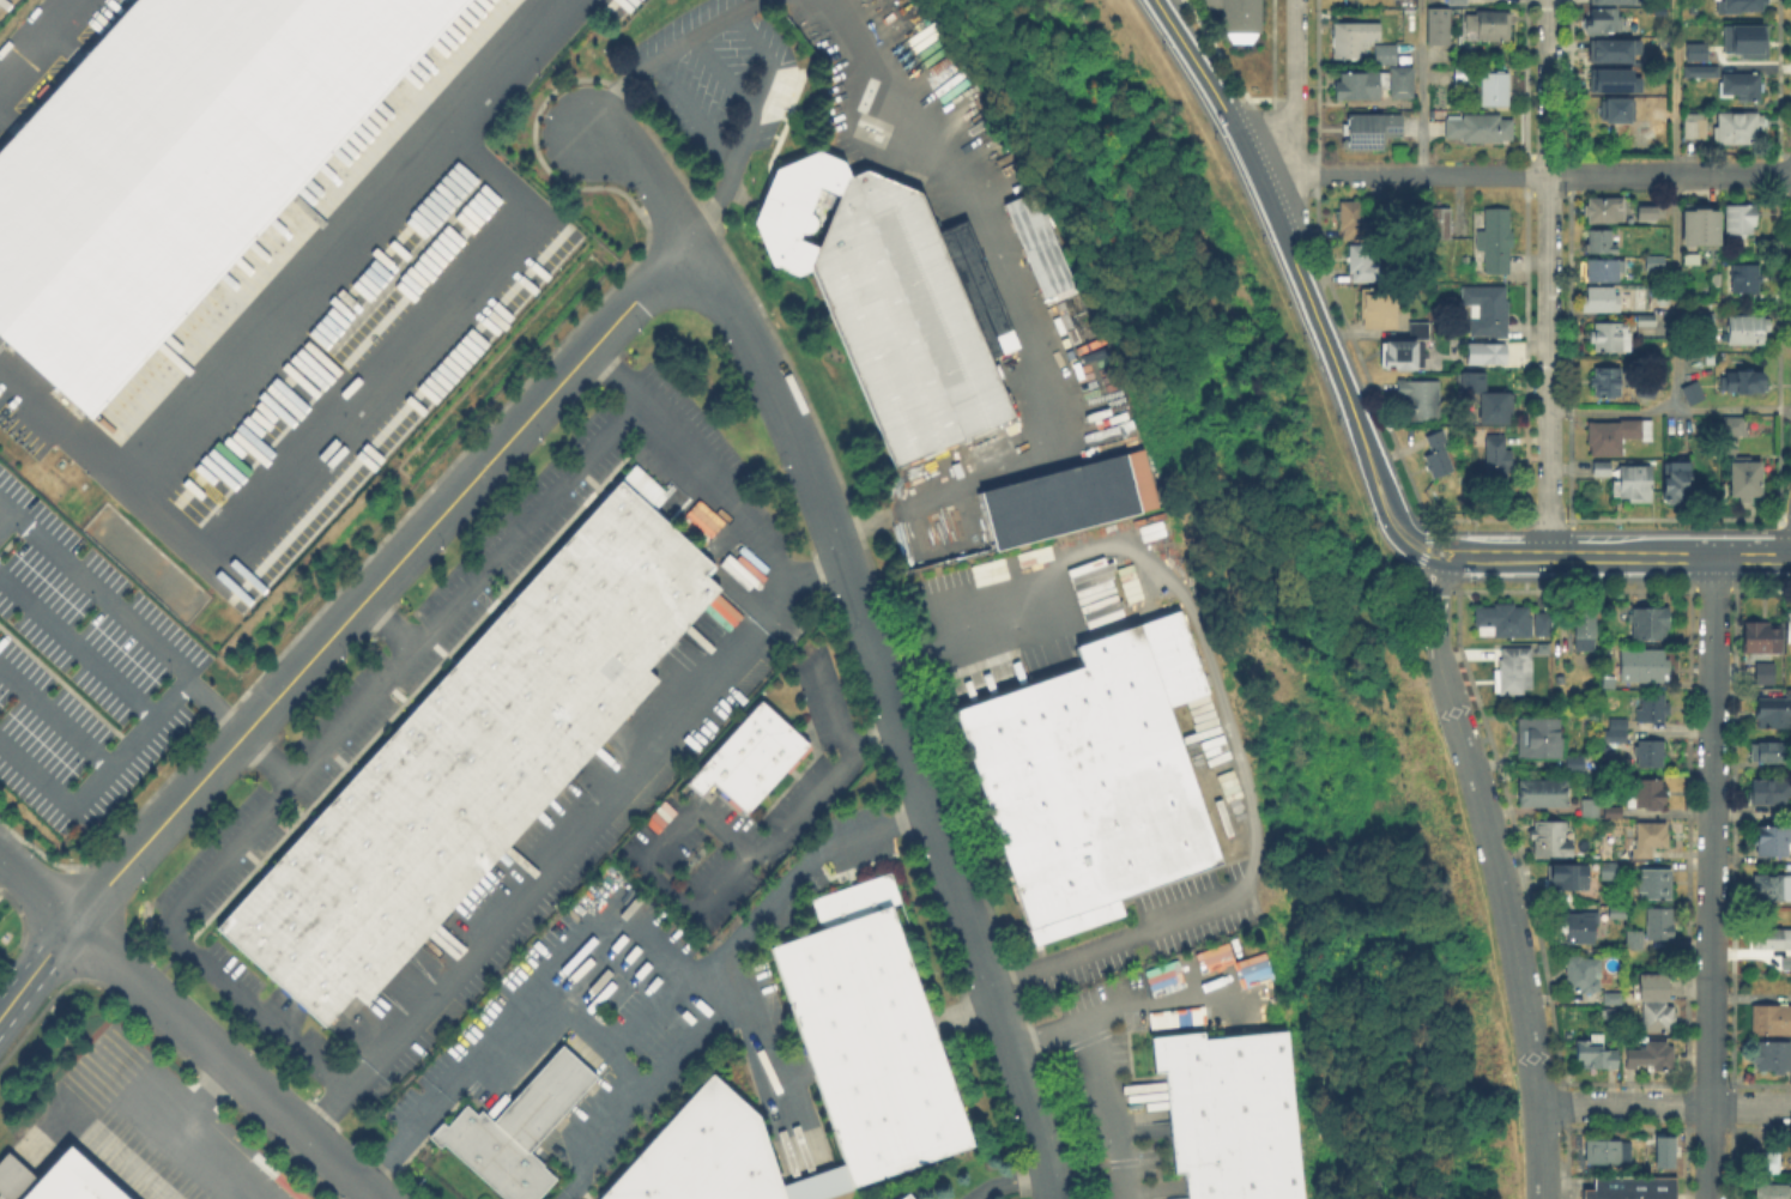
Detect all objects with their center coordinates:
building: (1458, 1)
building: (1612, 1)
building: (1404, 2)
building: (1743, 7)
building: (1240, 18)
building: (1603, 22)
building: (1490, 26)
building: (1440, 28)
road: (30, 34)
building: (1354, 37)
road: (758, 40)
building: (1747, 40)
road: (1202, 48)
building: (1612, 49)
building: (1698, 52)
building: (1387, 56)
road: (1221, 60)
road: (728, 72)
building: (1702, 73)
building: (1465, 79)
building: (1612, 79)
building: (1743, 85)
building: (1375, 86)
road: (1422, 87)
building: (1496, 90)
road: (1295, 92)
road: (1294, 97)
road: (1239, 98)
building: (1618, 111)
road: (697, 113)
road: (1271, 125)
road: (1315, 125)
building: (1694, 126)
building: (1738, 128)
building: (1480, 129)
building: (1372, 132)
building: (175, 163)
road: (1315, 174)
road: (1267, 175)
road: (1521, 175)
road: (1281, 176)
road: (651, 177)
road: (1675, 204)
building: (1605, 211)
building: (1647, 213)
building: (1354, 220)
building: (1741, 220)
building: (1442, 224)
road: (1276, 225)
building: (1699, 228)
building: (1496, 242)
building: (1036, 243)
building: (1602, 243)
building: (1362, 264)
building: (1656, 264)
building: (1607, 271)
building: (1706, 271)
road: (1549, 277)
building: (1745, 279)
building: (979, 291)
building: (1663, 298)
building: (1602, 301)
building: (889, 302)
road: (292, 308)
building: (1379, 311)
building: (1488, 311)
building: (1645, 320)
building: (1705, 320)
road: (1025, 328)
building: (1749, 331)
building: (1421, 332)
building: (1611, 339)
building: (1402, 355)
building: (1480, 355)
building: (1711, 359)
building: (1607, 383)
building: (1743, 384)
building: (1646, 393)
building: (1690, 394)
road: (383, 395)
building: (1421, 400)
road: (1378, 405)
building: (1496, 408)
road: (1669, 410)
building: (1616, 437)
road: (1379, 438)
building: (1439, 458)
building: (1497, 458)
building: (1602, 470)
building: (1745, 479)
building: (1676, 482)
building: (1634, 485)
building: (1071, 501)
road: (13, 504)
road: (1393, 505)
road: (744, 511)
road: (1672, 516)
road: (1784, 516)
road: (1381, 517)
road: (1547, 517)
road: (526, 523)
road: (1426, 528)
road: (1671, 529)
road: (1781, 529)
road: (1547, 531)
road: (1439, 540)
road: (1502, 544)
road: (1777, 551)
road: (1422, 552)
road: (1571, 552)
road: (1670, 555)
road: (1489, 556)
road: (1432, 562)
road: (1499, 567)
road: (1167, 574)
road: (1762, 574)
road: (1712, 575)
road: (1439, 576)
road: (1563, 576)
road: (1416, 577)
road: (381, 580)
road: (1573, 587)
road: (1711, 587)
road: (1762, 587)
road: (1427, 588)
road: (1448, 588)
road: (114, 592)
park: (1260, 610)
building: (1505, 620)
building: (1648, 624)
building: (1544, 625)
road: (1436, 630)
building: (1586, 632)
building: (1789, 635)
building: (1762, 637)
road: (79, 644)
building: (1767, 665)
building: (1642, 666)
building: (1515, 672)
road: (894, 709)
building: (1653, 709)
building: (1775, 713)
road: (56, 716)
building: (1616, 732)
building: (1539, 739)
building: (1769, 753)
road: (123, 755)
building: (1647, 756)
road: (271, 757)
building: (474, 757)
building: (752, 759)
building: (1575, 764)
building: (1095, 775)
building: (1771, 793)
building: (1646, 794)
building: (1543, 795)
road: (804, 806)
building: (1591, 810)
building: (1614, 813)
building: (1551, 840)
building: (1652, 840)
building: (1775, 842)
building: (1636, 854)
road: (547, 865)
building: (1610, 872)
road: (795, 877)
building: (1566, 877)
road: (1711, 877)
road: (208, 879)
building: (1657, 884)
road: (37, 889)
building: (1771, 889)
building: (858, 902)
building: (1618, 913)
road: (613, 921)
building: (1078, 922)
building: (1660, 925)
building: (1578, 927)
road: (1511, 932)
building: (1635, 940)
road: (1113, 941)
building: (1774, 941)
building: (1212, 956)
road: (36, 969)
building: (1251, 969)
building: (1583, 974)
building: (1162, 976)
building: (1651, 991)
road: (1160, 995)
building: (1614, 1000)
building: (1614, 1016)
building: (1657, 1019)
building: (1772, 1022)
road: (761, 1041)
building: (872, 1047)
building: (1648, 1054)
building: (1596, 1055)
building: (1773, 1059)
road: (225, 1060)
road: (1102, 1072)
road: (202, 1098)
road: (1664, 1106)
building: (1230, 1115)
building: (519, 1131)
road: (193, 1150)
building: (1660, 1150)
building: (1608, 1152)
building: (706, 1155)
building: (1768, 1164)
building: (14, 1180)
building: (73, 1181)
building: (1633, 1188)
building: (1774, 1192)
building: (909, 1198)

